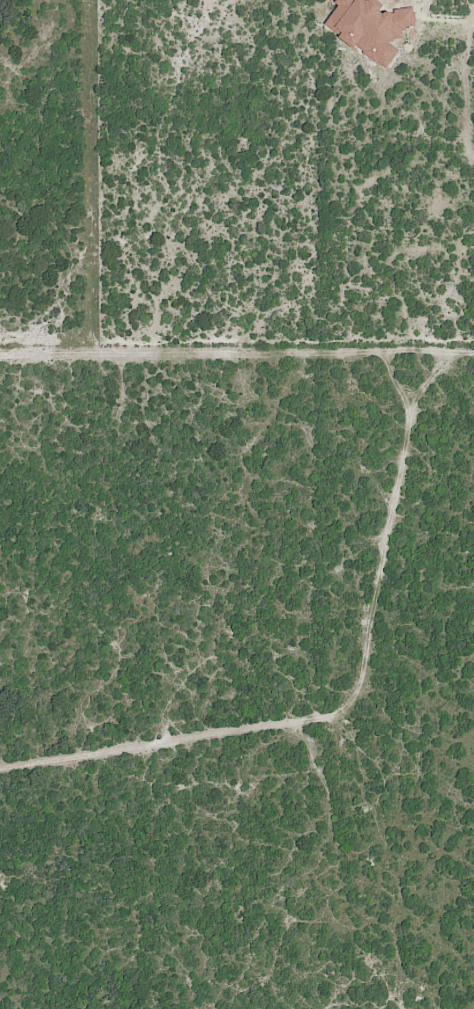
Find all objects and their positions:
building: (370, 27)

